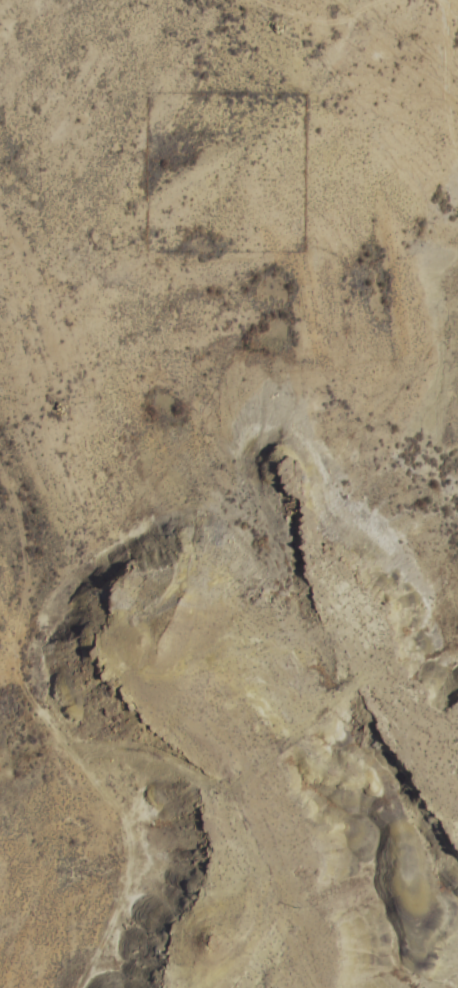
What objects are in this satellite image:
road: (19, 632)

